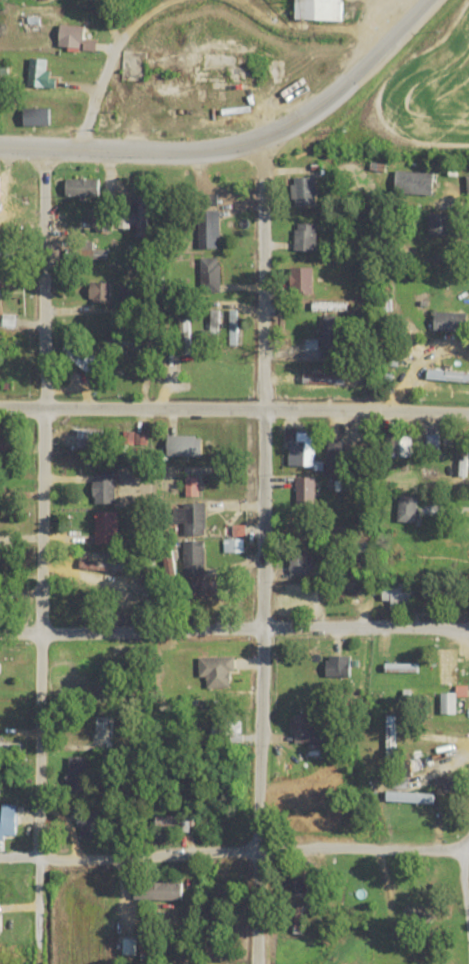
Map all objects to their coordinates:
building: (323, 9)
building: (72, 35)
road: (109, 60)
building: (134, 65)
road: (354, 77)
building: (38, 116)
road: (131, 151)
building: (414, 182)
building: (468, 183)
building: (83, 187)
building: (305, 190)
road: (216, 194)
road: (467, 211)
building: (142, 213)
building: (103, 220)
building: (438, 225)
building: (209, 228)
building: (305, 236)
building: (105, 247)
building: (210, 274)
building: (302, 280)
building: (445, 281)
building: (0, 285)
building: (100, 292)
building: (451, 321)
building: (233, 324)
building: (329, 334)
building: (119, 344)
building: (9, 346)
building: (85, 359)
building: (1, 372)
building: (448, 375)
road: (234, 409)
building: (92, 437)
building: (185, 445)
building: (398, 447)
building: (302, 450)
building: (336, 459)
building: (105, 488)
building: (305, 491)
building: (408, 508)
building: (189, 517)
building: (106, 527)
road: (262, 552)
road: (40, 557)
building: (193, 558)
building: (299, 563)
building: (398, 593)
road: (234, 632)
building: (447, 666)
building: (338, 667)
building: (217, 671)
building: (448, 703)
building: (446, 726)
building: (306, 727)
building: (103, 734)
building: (390, 735)
building: (77, 773)
building: (410, 797)
building: (9, 821)
building: (89, 824)
road: (465, 843)
road: (231, 853)
building: (297, 886)
building: (158, 891)
building: (391, 957)

